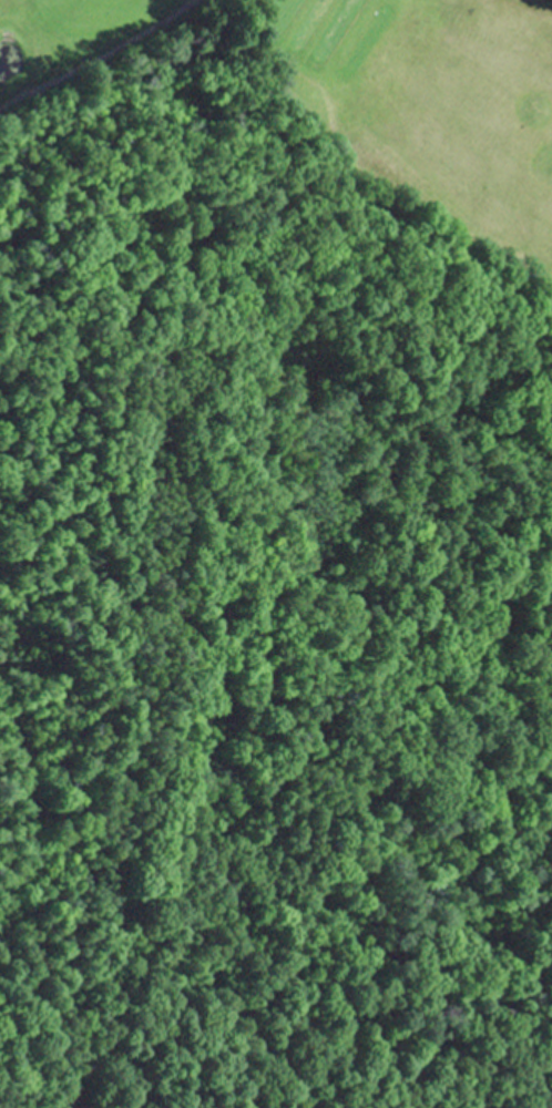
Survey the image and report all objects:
park: (269, 543)

